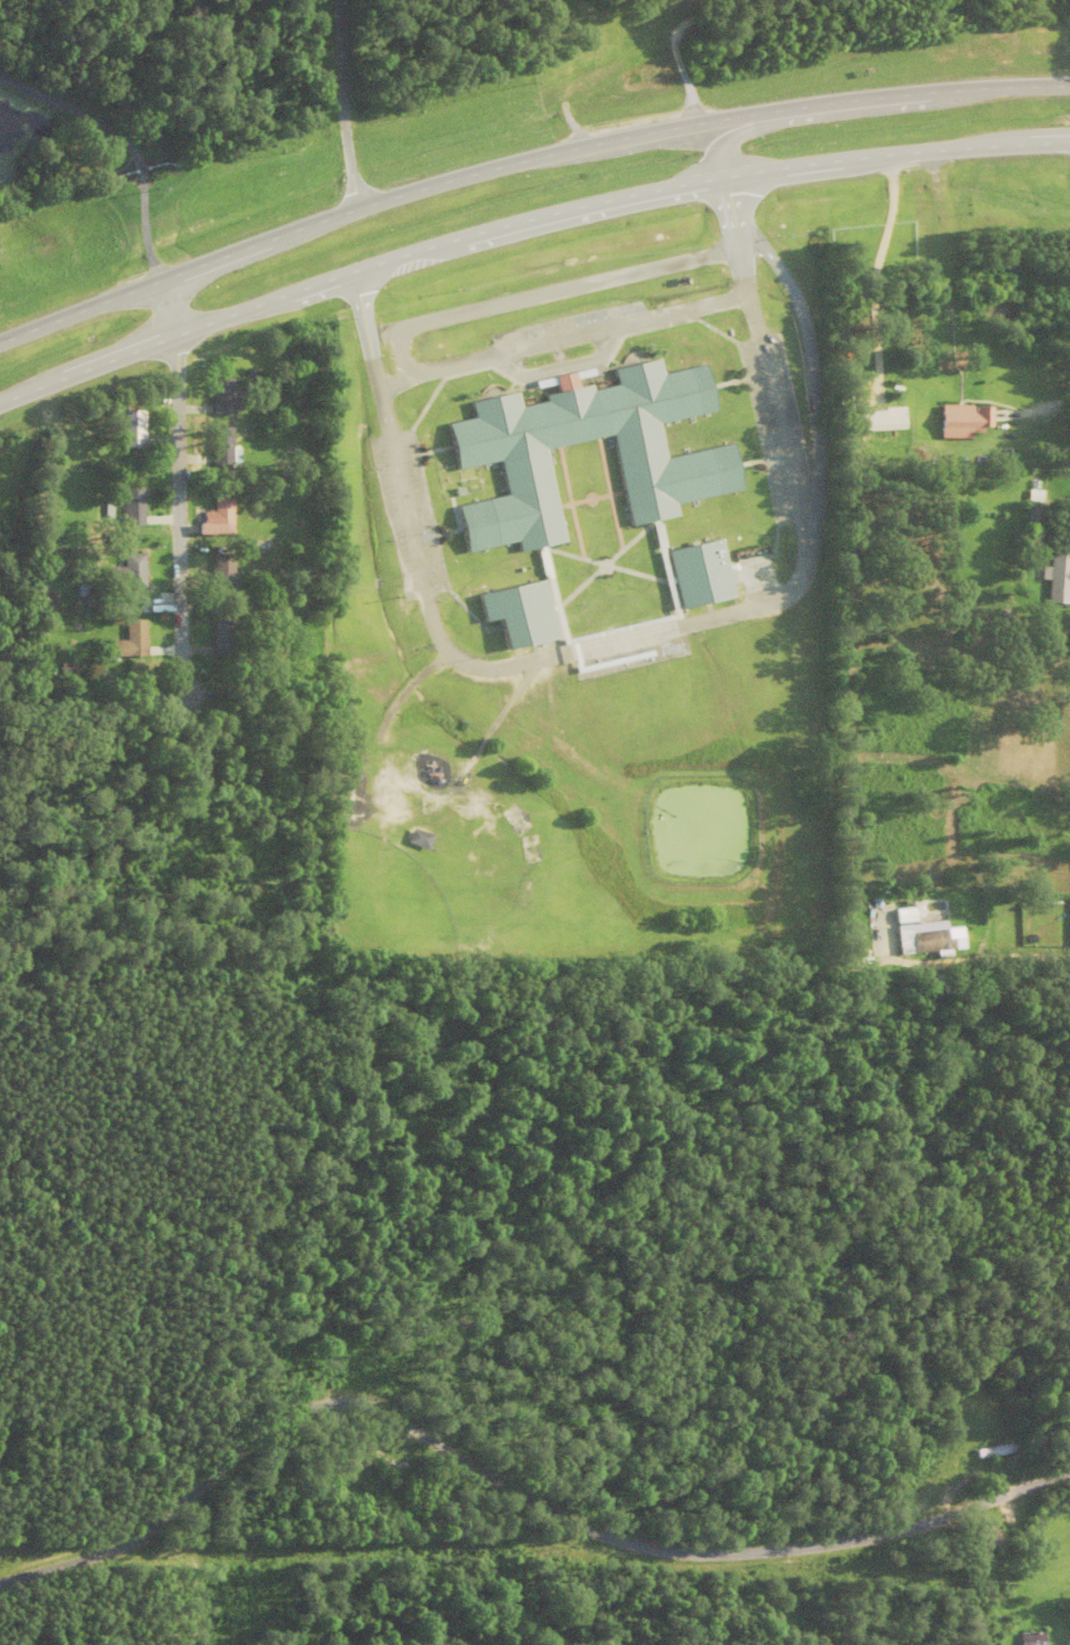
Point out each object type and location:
road: (341, 103)
road: (743, 130)
road: (126, 145)
road: (523, 161)
road: (523, 222)
road: (553, 291)
road: (567, 338)
road: (402, 353)
road: (559, 369)
road: (1048, 398)
building: (227, 400)
building: (968, 422)
building: (135, 430)
building: (224, 448)
building: (500, 453)
road: (175, 487)
building: (135, 507)
building: (221, 520)
building: (660, 540)
building: (702, 573)
building: (130, 575)
building: (225, 579)
building: (1060, 580)
building: (523, 613)
road: (631, 639)
building: (226, 640)
building: (134, 643)
building: (420, 842)
building: (931, 940)
road: (979, 959)
building: (996, 1454)
building: (388, 1477)
road: (511, 1489)
building: (990, 1543)
building: (1032, 1640)
building: (1049, 1644)

